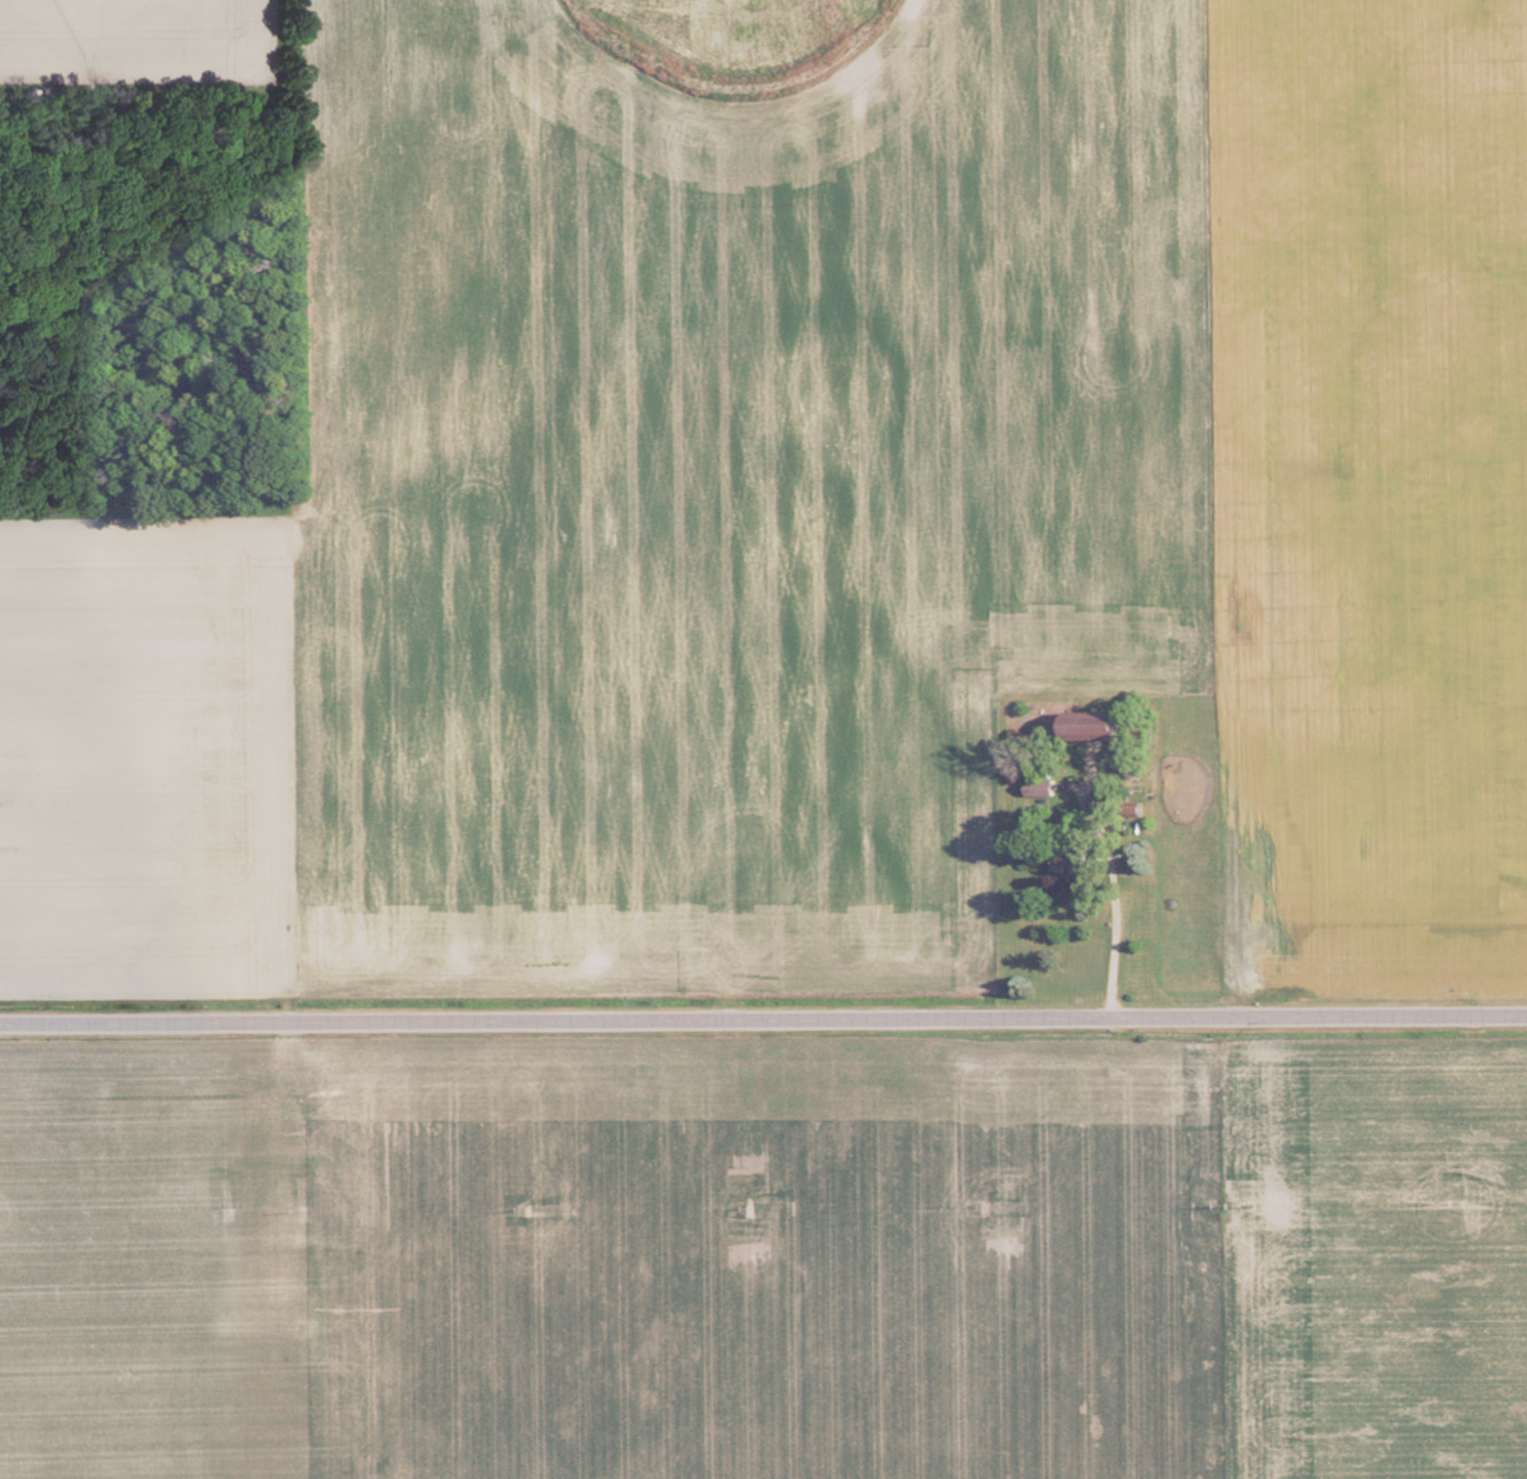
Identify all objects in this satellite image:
building: (1082, 726)
building: (1038, 788)
building: (1059, 859)
road: (1114, 931)
road: (763, 1019)

